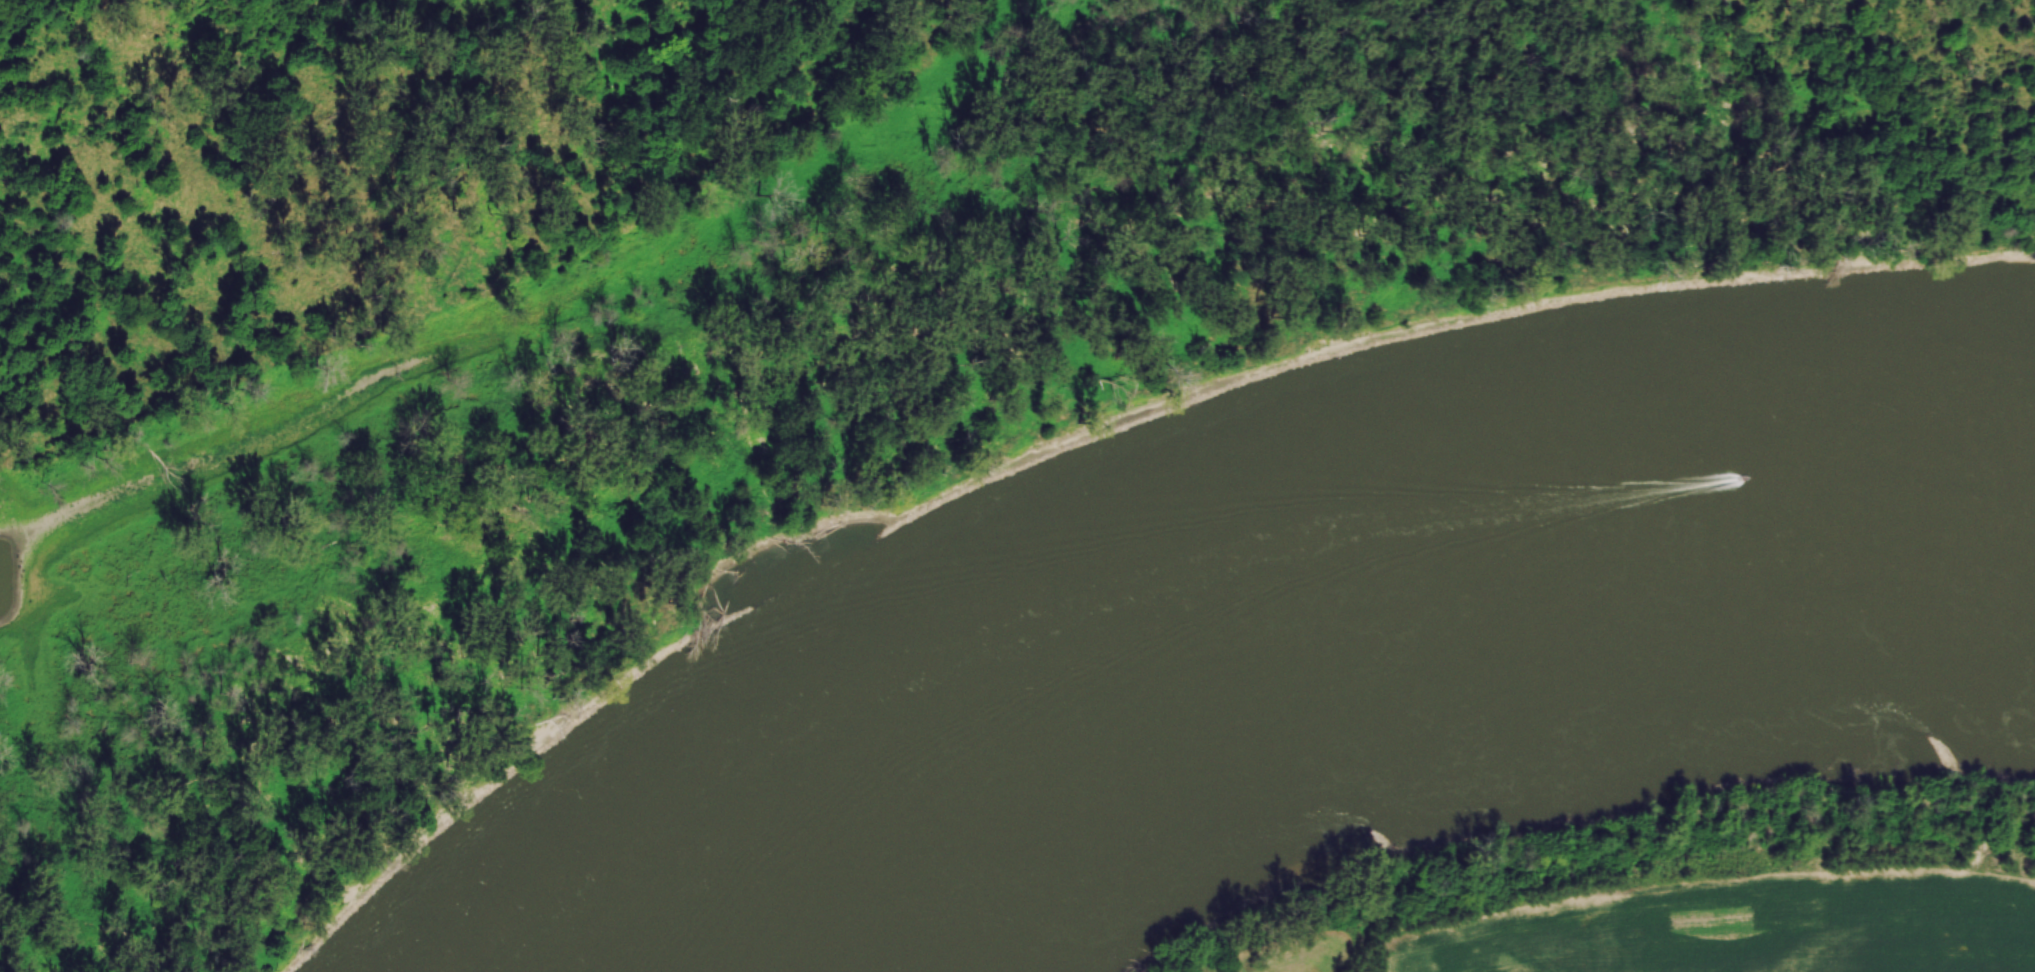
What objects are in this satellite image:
road: (23, 464)
river: (1321, 652)

